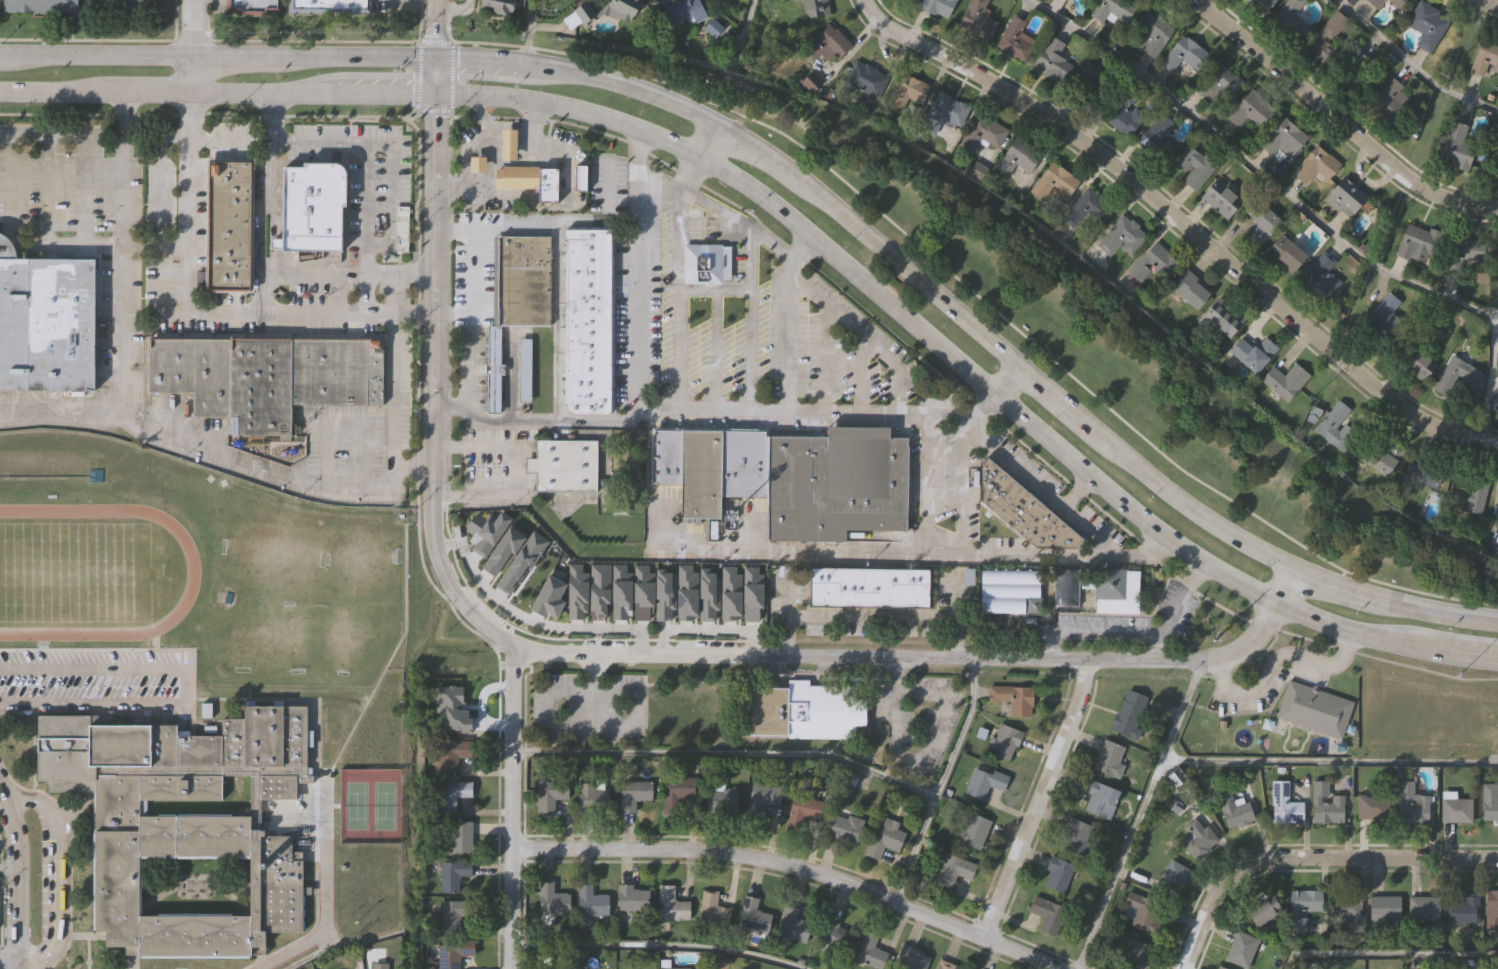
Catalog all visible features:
building: (1066, 0)
road: (1479, 1)
building: (1375, 2)
road: (469, 3)
building: (1398, 3)
building: (127, 4)
building: (1261, 4)
building: (39, 5)
building: (255, 5)
building: (332, 5)
building: (501, 5)
building: (939, 6)
road: (1486, 6)
building: (815, 7)
building: (1113, 8)
road: (452, 9)
building: (624, 9)
building: (684, 9)
building: (586, 12)
building: (1290, 19)
building: (977, 20)
building: (1427, 24)
road: (525, 31)
building: (1149, 31)
road: (742, 33)
building: (1328, 34)
building: (1014, 39)
building: (827, 42)
road: (192, 47)
traffic signals: (436, 53)
building: (1485, 57)
building: (1052, 60)
road: (1410, 63)
building: (1361, 69)
building: (1204, 71)
building: (866, 78)
building: (1091, 78)
building: (907, 94)
traffic signals: (435, 96)
building: (1389, 99)
building: (1251, 110)
building: (943, 111)
building: (1124, 111)
road: (1337, 119)
building: (982, 132)
road: (59, 135)
building: (1161, 135)
road: (233, 136)
building: (1286, 137)
building: (508, 145)
gas station: (508, 145)
building: (1455, 145)
building: (1018, 156)
building: (475, 164)
gas station: (475, 164)
building: (1315, 164)
building: (1193, 165)
road: (158, 176)
building: (514, 177)
building: (579, 177)
road: (806, 181)
building: (1054, 182)
building: (546, 183)
road: (85, 188)
road: (392, 192)
road: (366, 195)
building: (1344, 196)
building: (1220, 197)
road: (265, 203)
building: (311, 206)
road: (715, 208)
road: (1302, 208)
building: (1088, 211)
road: (1183, 220)
building: (231, 224)
building: (1263, 227)
road: (491, 230)
road: (800, 232)
building: (1122, 236)
building: (1415, 241)
road: (67, 245)
road: (153, 245)
road: (7, 246)
building: (1468, 250)
building: (1285, 252)
building: (704, 262)
building: (1153, 262)
road: (312, 272)
road: (398, 272)
building: (1323, 274)
road: (676, 277)
building: (524, 279)
building: (1190, 288)
road: (187, 290)
road: (713, 290)
road: (259, 292)
building: (1385, 309)
road: (120, 313)
road: (451, 313)
building: (1221, 317)
building: (590, 319)
road: (750, 319)
building: (46, 322)
road: (471, 322)
road: (863, 335)
road: (787, 336)
road: (430, 337)
park: (1083, 338)
road: (717, 349)
building: (1252, 352)
building: (1413, 360)
building: (495, 367)
building: (526, 369)
building: (266, 374)
building: (1285, 380)
building: (1457, 380)
road: (395, 395)
road: (699, 407)
road: (531, 420)
building: (1334, 422)
building: (664, 454)
building: (743, 462)
building: (1382, 462)
building: (566, 463)
road: (270, 467)
road: (520, 468)
building: (700, 472)
building: (1423, 473)
building: (835, 482)
road: (927, 483)
road: (964, 487)
road: (1075, 491)
building: (1468, 495)
road: (1061, 507)
building: (1023, 508)
building: (485, 531)
building: (503, 549)
road: (886, 551)
building: (521, 562)
track: (89, 572)
park: (78, 573)
building: (871, 587)
building: (1066, 587)
building: (1006, 589)
building: (1113, 590)
building: (598, 591)
building: (576, 592)
building: (620, 593)
building: (642, 593)
building: (686, 593)
building: (752, 593)
building: (708, 594)
building: (730, 594)
building: (549, 595)
building: (664, 595)
road: (1179, 599)
road: (870, 617)
road: (530, 619)
road: (704, 629)
road: (1102, 632)
road: (926, 657)
road: (1275, 662)
road: (190, 687)
building: (1014, 700)
building: (1315, 707)
building: (803, 708)
building: (451, 710)
building: (1490, 711)
building: (1130, 715)
building: (1004, 743)
road: (725, 754)
building: (452, 755)
road: (915, 759)
building: (1109, 760)
road: (1329, 762)
road: (938, 780)
building: (983, 784)
building: (634, 795)
building: (678, 795)
building: (451, 796)
building: (550, 796)
building: (765, 797)
building: (1100, 799)
building: (592, 800)
building: (725, 801)
road: (1036, 801)
building: (1487, 804)
park: (370, 806)
road: (511, 806)
building: (1284, 806)
building: (1327, 806)
building: (1412, 806)
building: (1373, 808)
building: (805, 809)
building: (1454, 810)
building: (1234, 812)
road: (1138, 814)
building: (185, 821)
building: (844, 830)
building: (972, 831)
building: (1076, 837)
building: (459, 838)
building: (885, 839)
building: (1199, 841)
road: (1310, 858)
road: (793, 866)
road: (7, 869)
building: (954, 871)
road: (54, 875)
building: (1058, 875)
building: (453, 876)
building: (1172, 878)
road: (15, 879)
road: (323, 897)
building: (632, 900)
building: (552, 902)
building: (1306, 903)
building: (592, 904)
building: (672, 906)
building: (1347, 908)
building: (1264, 909)
building: (1424, 910)
building: (1462, 911)
building: (1491, 911)
building: (713, 912)
building: (1385, 912)
building: (1144, 913)
building: (455, 914)
building: (1047, 916)
building: (753, 917)
building: (793, 927)
building: (835, 937)
road: (343, 947)
road: (654, 947)
building: (1241, 950)
building: (1127, 951)
building: (870, 953)
road: (1386, 954)
building: (453, 955)
building: (911, 960)
road: (9, 962)
building: (379, 966)
building: (945, 966)
building: (1219, 968)

